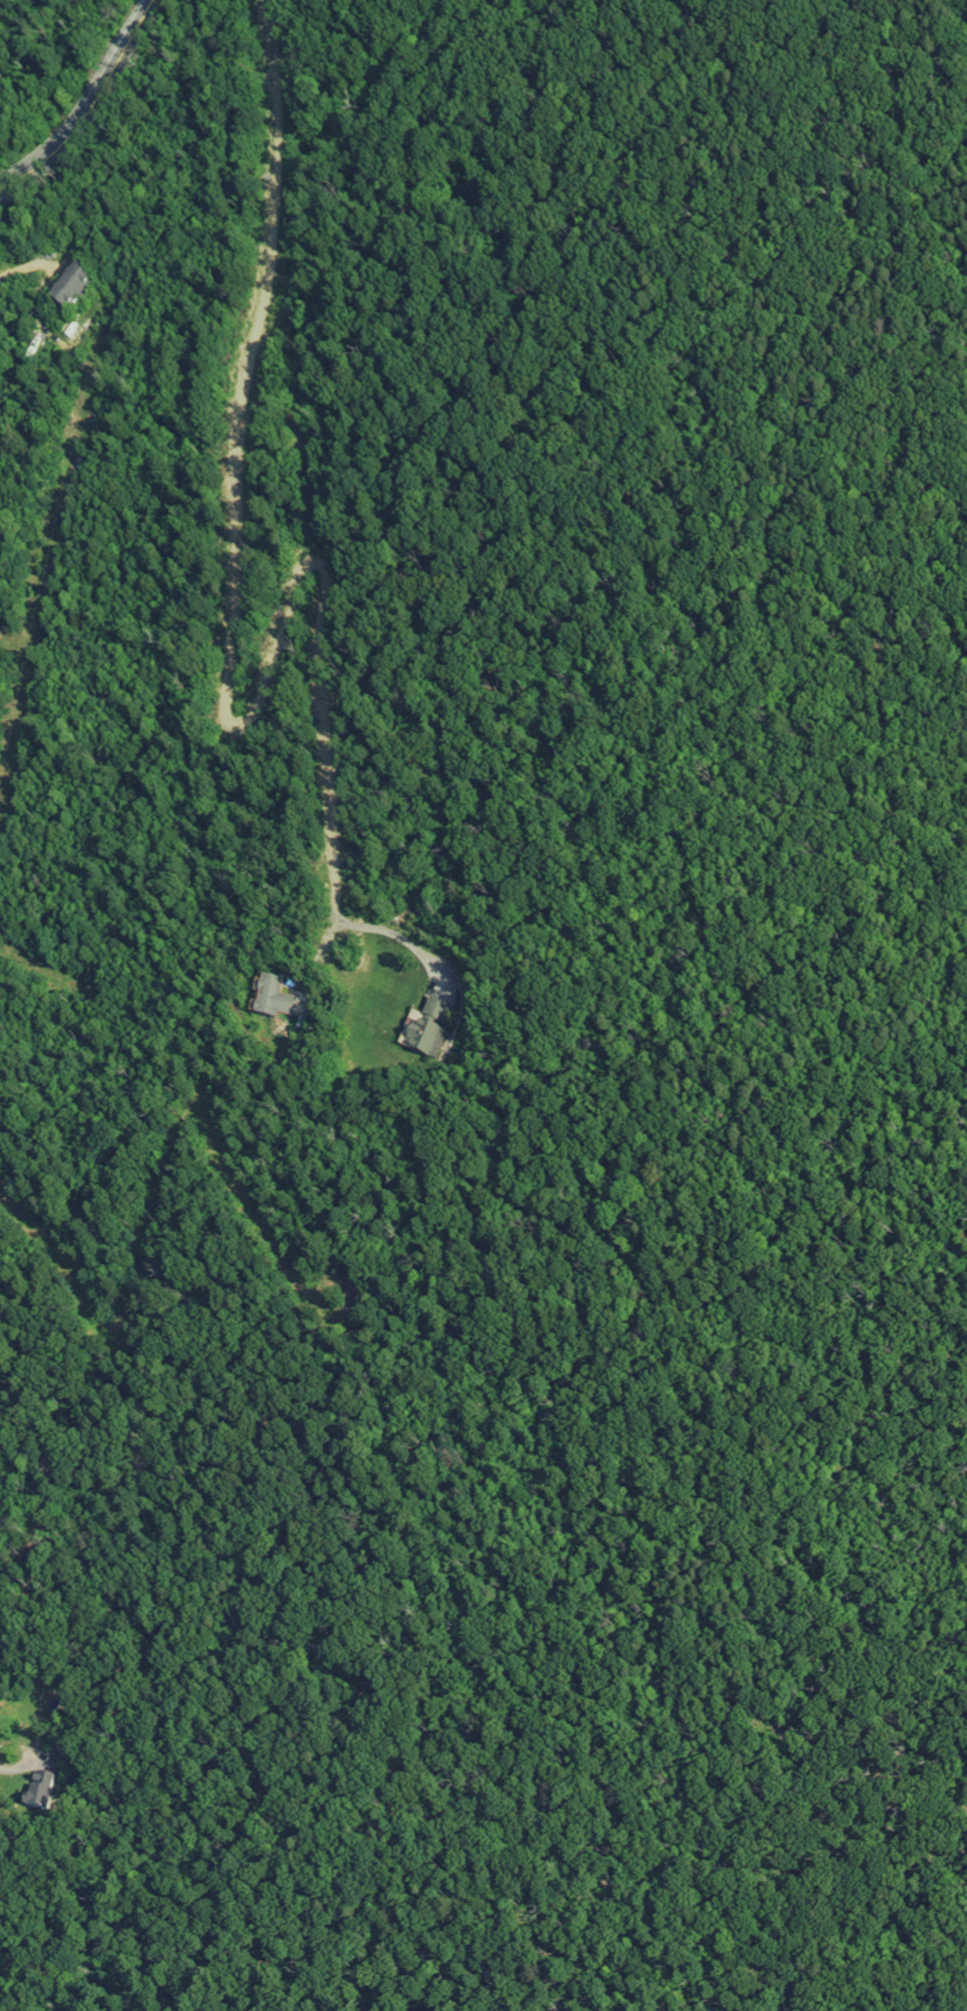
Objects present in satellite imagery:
road: (89, 107)
road: (238, 635)
road: (400, 936)
building: (278, 1000)
building: (433, 1029)
road: (15, 1767)

